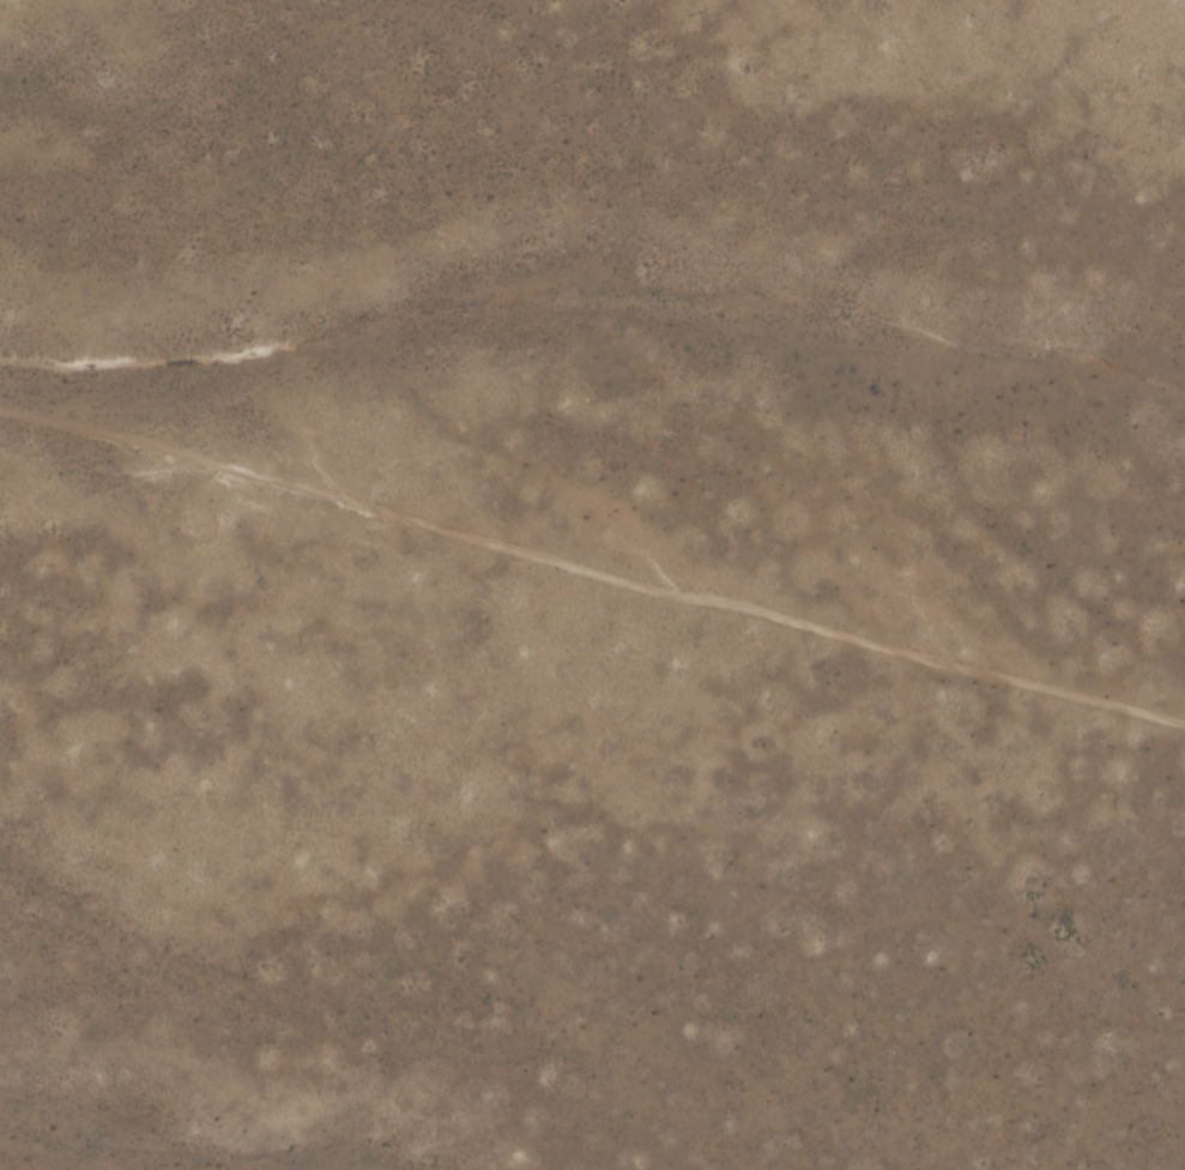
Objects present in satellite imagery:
road: (591, 572)

